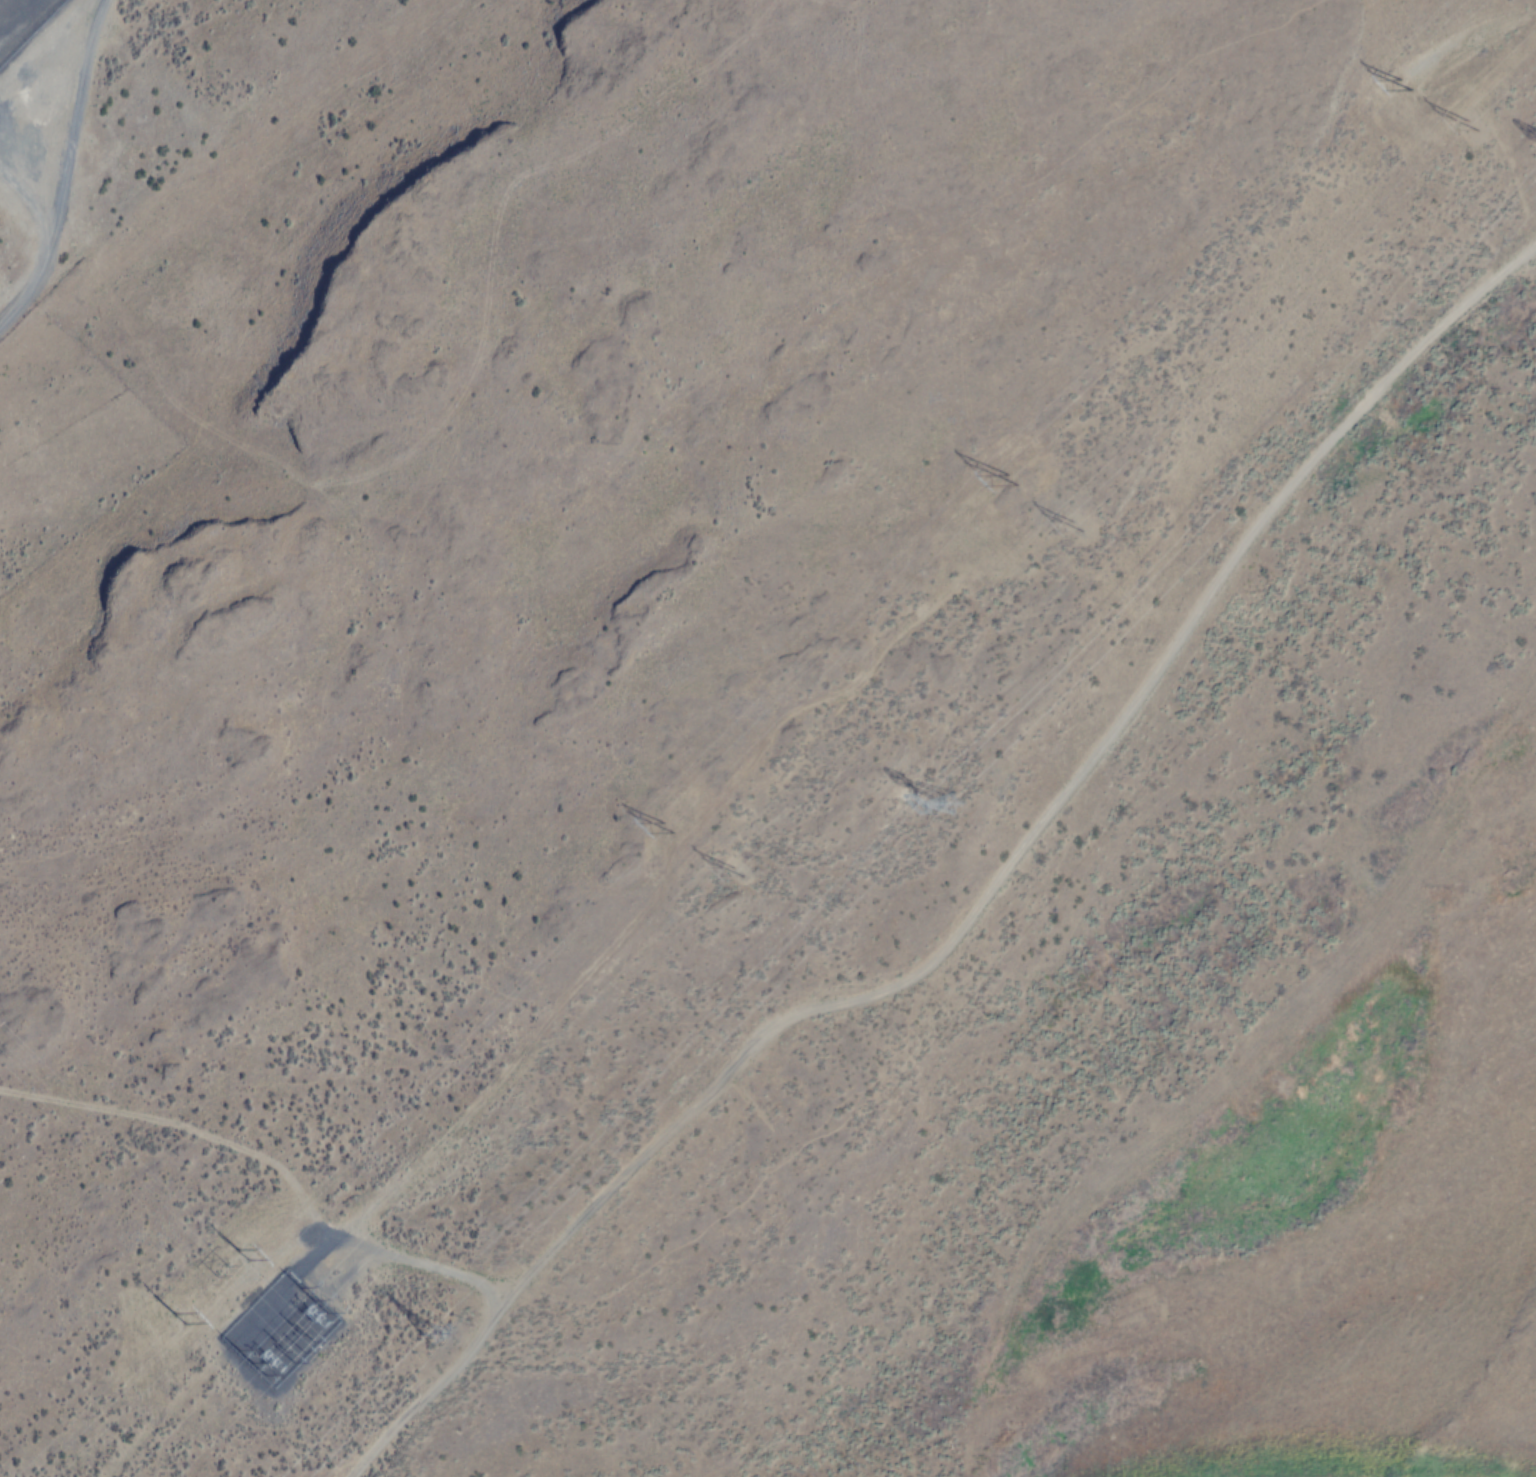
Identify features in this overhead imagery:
power substation: (21, 21)
power tower: (1472, 124)
road: (24, 238)
power tower: (1072, 527)
power tower: (955, 797)
power tower: (730, 873)
power tower: (218, 1272)
power tower: (311, 1300)
power tower: (433, 1325)
power tower: (306, 1348)
power tower: (243, 1362)

